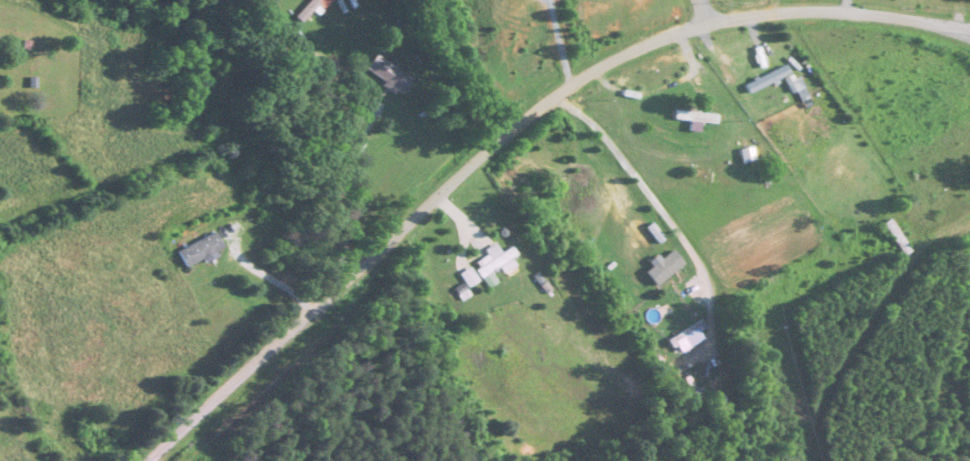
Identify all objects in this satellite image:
road: (775, 6)
road: (847, 6)
building: (309, 10)
road: (704, 11)
road: (955, 27)
road: (554, 44)
building: (387, 75)
building: (761, 83)
building: (695, 118)
road: (511, 129)
road: (652, 207)
building: (199, 251)
building: (489, 265)
road: (270, 279)
building: (688, 337)
building: (687, 391)

